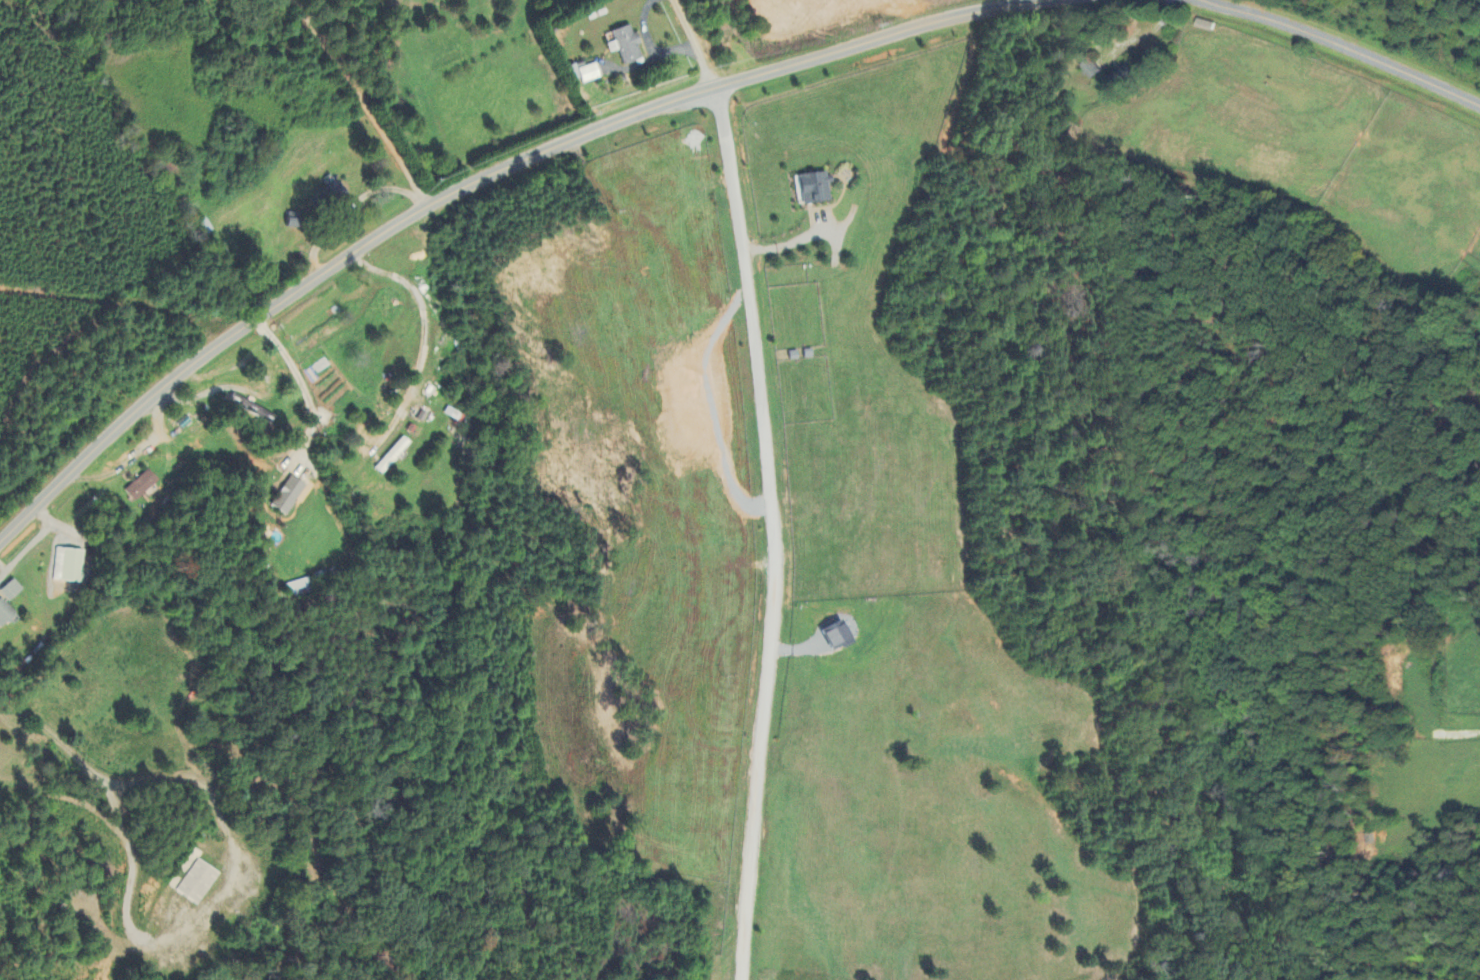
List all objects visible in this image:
road: (695, 44)
building: (624, 45)
road: (1341, 47)
building: (1089, 69)
building: (582, 74)
road: (327, 102)
road: (479, 177)
building: (812, 188)
building: (335, 196)
road: (304, 385)
road: (208, 392)
building: (250, 409)
building: (391, 456)
road: (131, 458)
building: (140, 486)
building: (286, 496)
road: (779, 532)
building: (67, 566)
building: (9, 591)
building: (4, 612)
building: (833, 637)
building: (195, 884)
road: (228, 890)

